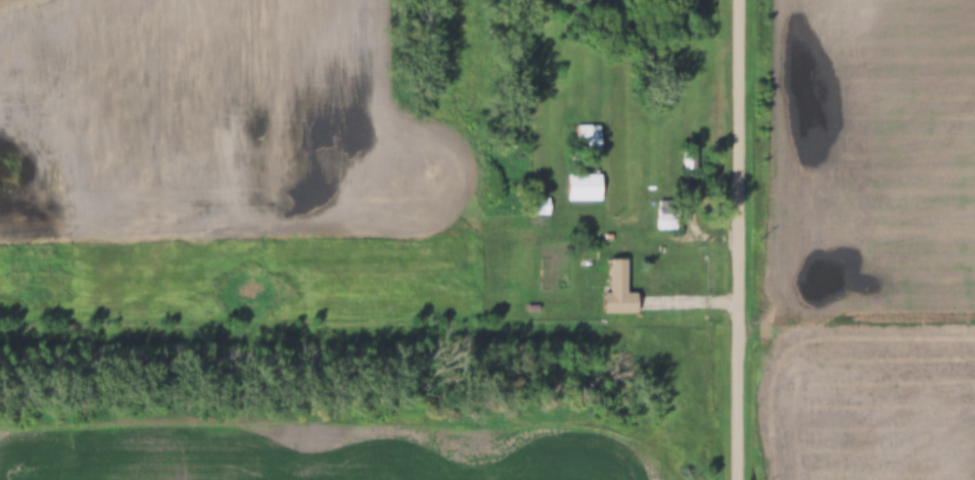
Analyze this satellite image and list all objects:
building: (584, 188)
building: (667, 216)
road: (738, 240)
building: (621, 291)

